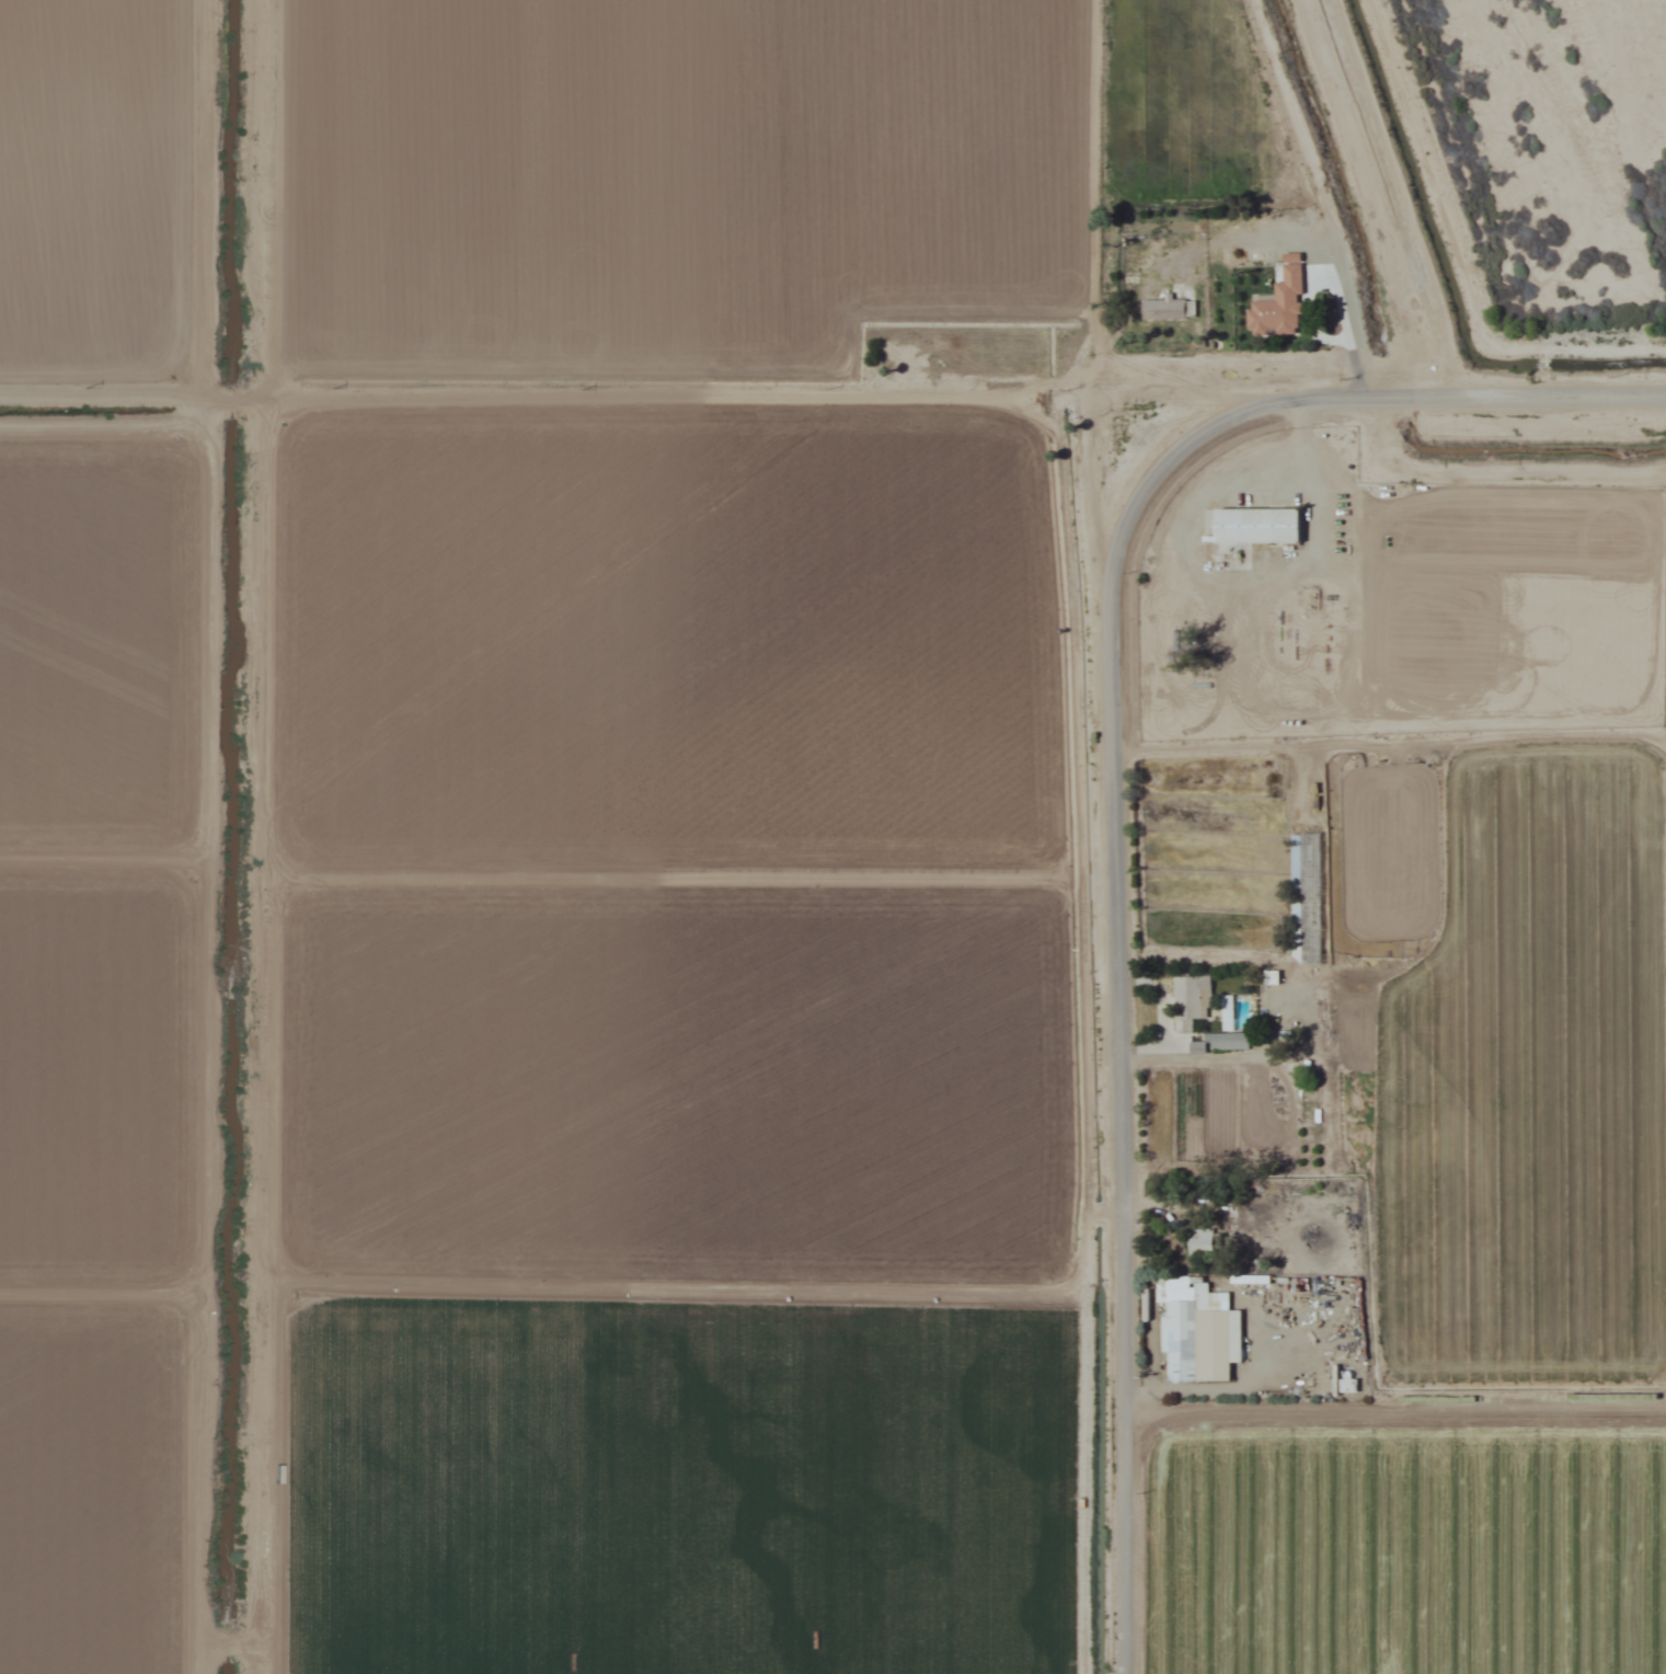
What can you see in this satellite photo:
crop: (668, 176)
building: (1290, 305)
building: (1167, 309)
building: (891, 353)
road: (1399, 400)
building: (1256, 525)
crop: (666, 639)
building: (1190, 1000)
building: (1227, 1041)
road: (1130, 1053)
crop: (674, 1080)
building: (1199, 1241)
building: (1282, 1281)
building: (1196, 1329)
building: (1347, 1385)
crop: (676, 1486)
crop: (1404, 1545)

